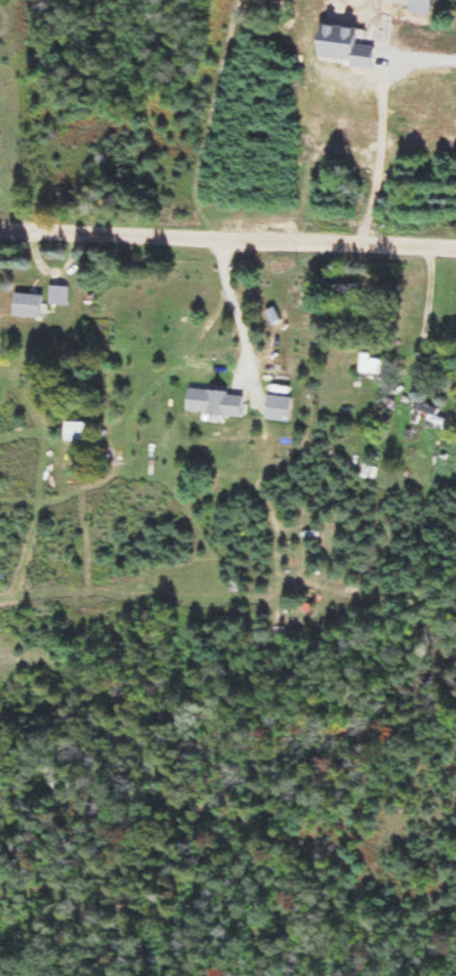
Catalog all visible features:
road: (228, 228)
building: (343, 290)
building: (59, 297)
building: (25, 302)
building: (372, 368)
building: (426, 411)
building: (76, 435)

